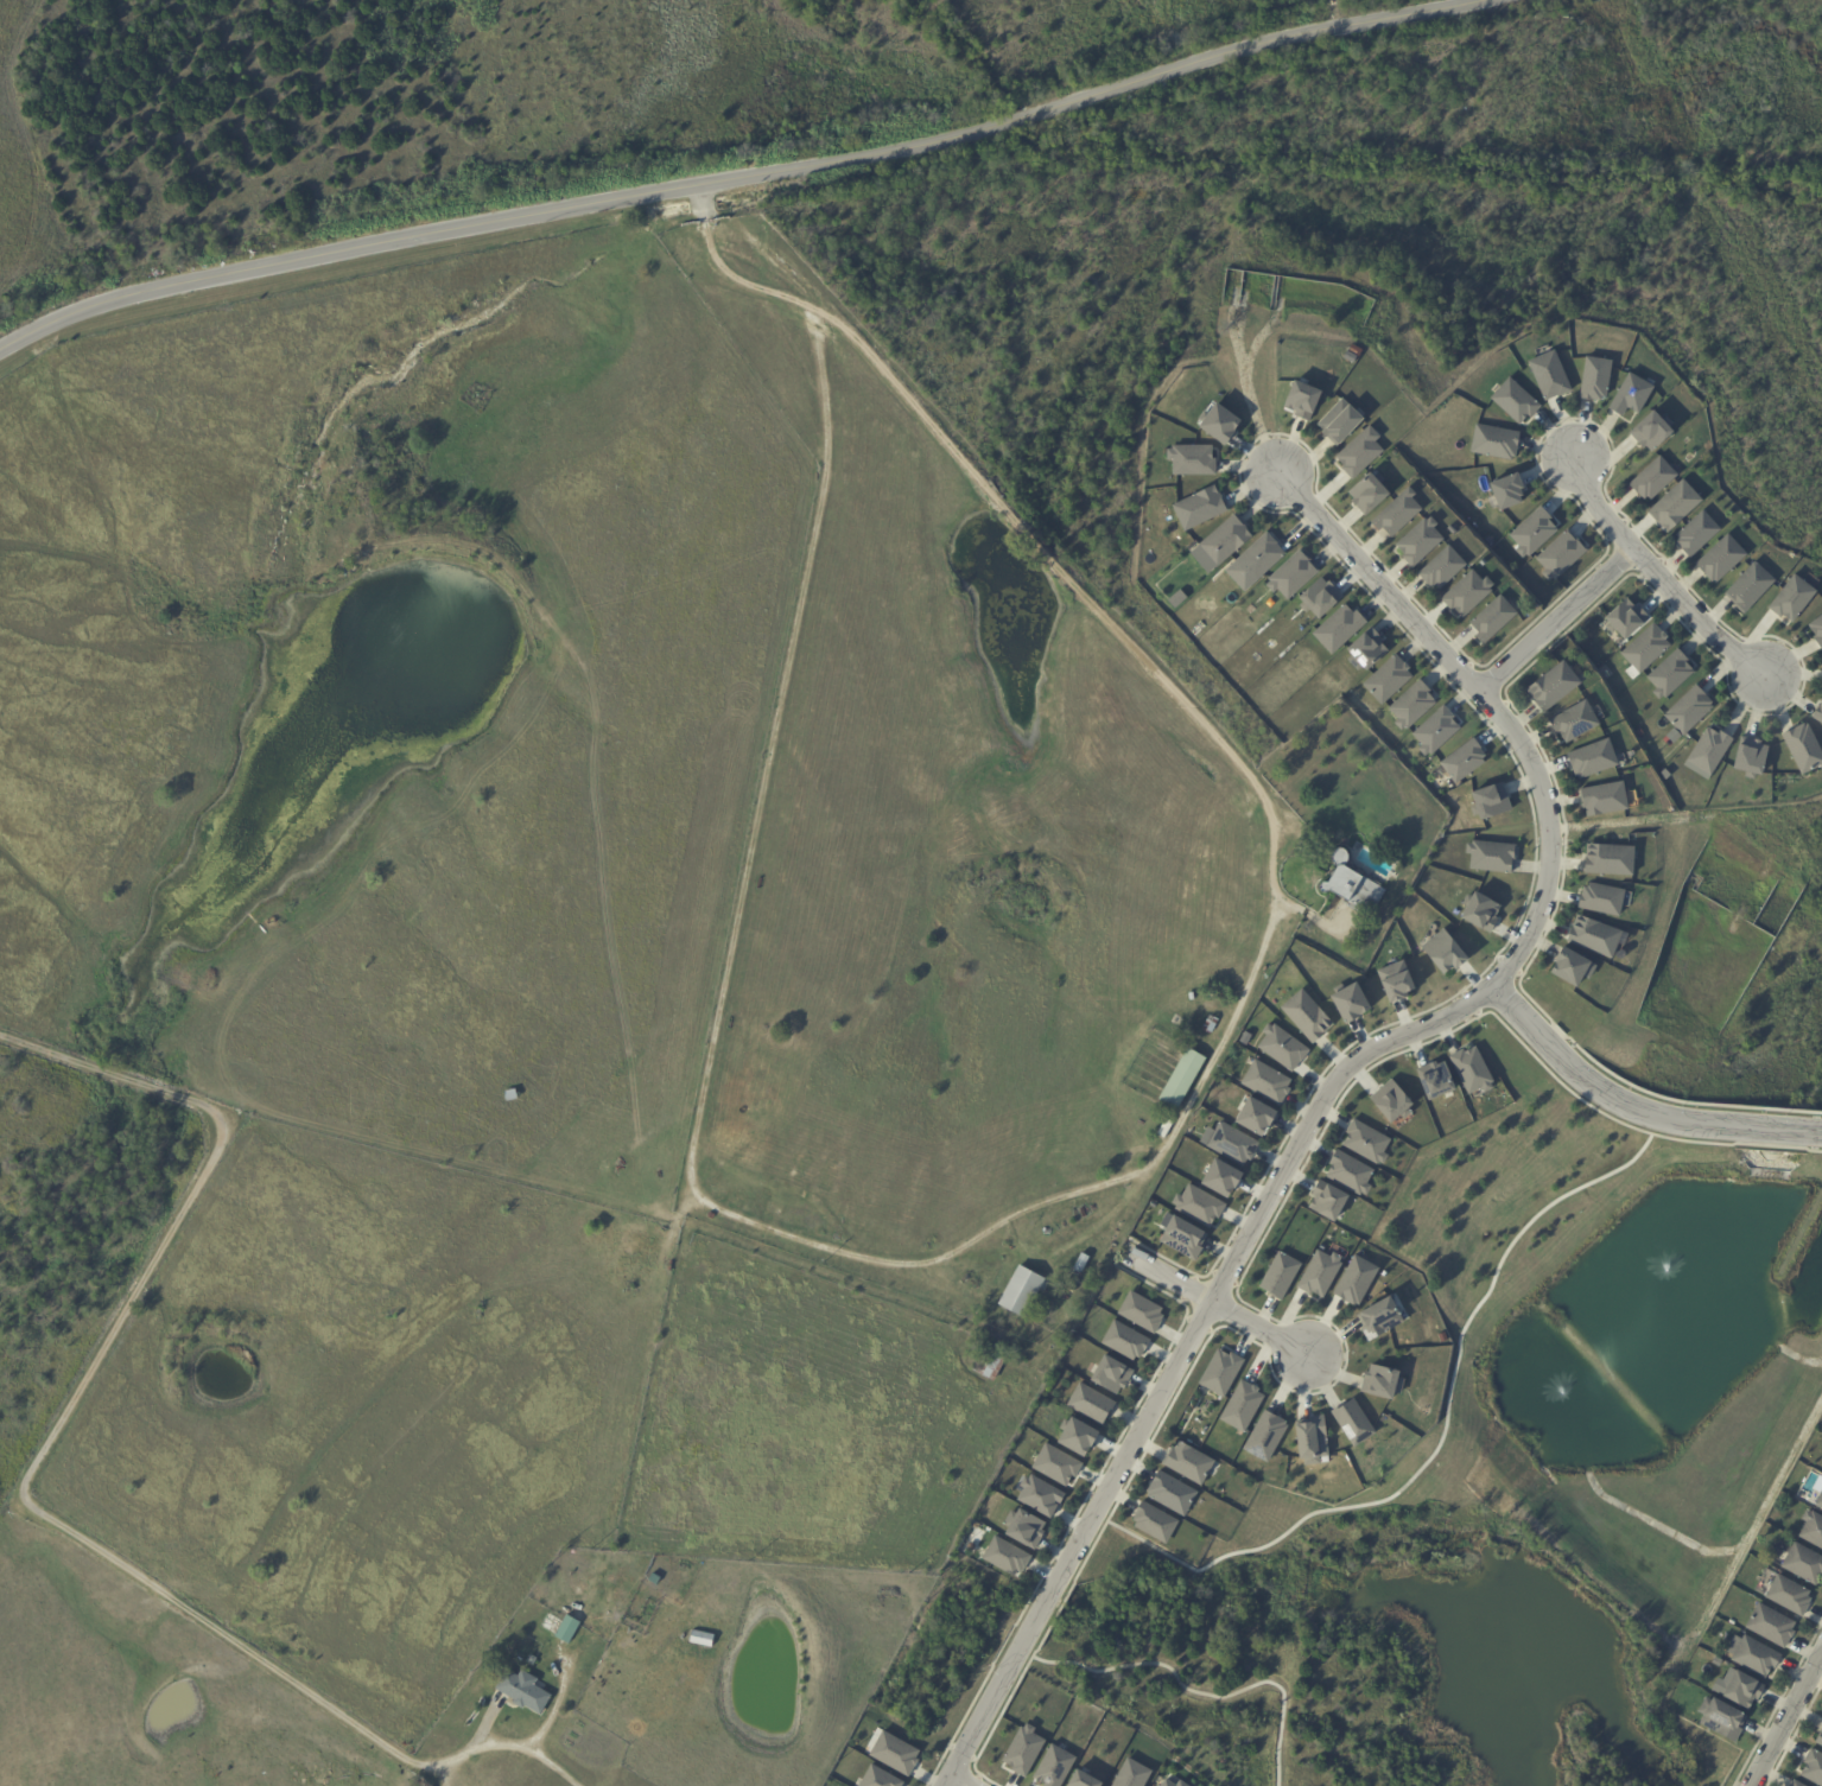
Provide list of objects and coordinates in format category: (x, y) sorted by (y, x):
road: (737, 177)
building: (1354, 349)
building: (1350, 356)
building: (1550, 375)
building: (1595, 379)
building: (1631, 396)
building: (1302, 400)
building: (1516, 401)
building: (1340, 424)
building: (1219, 425)
building: (1650, 432)
building: (1494, 441)
building: (1360, 452)
building: (1191, 462)
building: (1653, 479)
building: (1507, 491)
building: (1367, 495)
building: (1675, 508)
building: (1200, 509)
building: (1397, 514)
building: (1452, 530)
building: (1534, 533)
building: (1697, 534)
building: (1224, 541)
building: (1420, 542)
building: (1561, 557)
building: (1258, 559)
building: (1721, 559)
building: (1442, 570)
road: (1658, 574)
building: (1293, 576)
building: (1750, 587)
building: (1467, 595)
building: (1177, 598)
building: (1792, 598)
building: (1319, 600)
road: (1550, 618)
building: (1492, 619)
building: (1626, 619)
building: (1339, 630)
building: (1816, 631)
building: (1646, 648)
building: (1366, 650)
building: (1670, 674)
building: (1388, 680)
building: (1553, 687)
building: (1411, 706)
building: (1690, 711)
building: (1818, 713)
building: (1574, 723)
road: (1498, 725)
building: (1435, 733)
building: (1803, 748)
building: (1710, 750)
building: (1750, 757)
building: (1592, 758)
building: (1464, 762)
building: (1604, 799)
building: (1490, 805)
building: (1492, 857)
building: (1608, 860)
building: (1352, 886)
building: (1600, 900)
building: (1480, 914)
building: (1592, 936)
building: (1443, 952)
building: (1572, 968)
building: (1395, 980)
building: (1351, 1006)
building: (1307, 1018)
building: (1210, 1027)
building: (1282, 1047)
building: (1472, 1072)
building: (1181, 1081)
building: (1266, 1081)
building: (1435, 1082)
building: (513, 1094)
building: (1391, 1101)
road: (1632, 1107)
building: (1256, 1117)
building: (1166, 1130)
building: (1365, 1144)
building: (1232, 1145)
building: (1348, 1176)
building: (1221, 1177)
road: (1088, 1188)
building: (1329, 1202)
building: (1199, 1207)
building: (791, 1218)
building: (1181, 1237)
building: (1083, 1264)
building: (1318, 1272)
building: (1278, 1273)
building: (1353, 1279)
fountain: (1663, 1279)
building: (1020, 1292)
building: (1065, 1297)
road: (1215, 1304)
building: (1139, 1314)
building: (1378, 1317)
building: (1123, 1339)
road: (1790, 1353)
building: (989, 1362)
building: (1219, 1371)
building: (1110, 1373)
road: (1169, 1375)
building: (1383, 1381)
park: (1540, 1399)
building: (1088, 1402)
building: (1240, 1404)
building: (1353, 1423)
building: (1263, 1435)
building: (1075, 1436)
road: (1442, 1437)
building: (1310, 1439)
building: (1187, 1461)
building: (1055, 1463)
road: (20, 1491)
building: (1037, 1494)
building: (1172, 1494)
building: (1818, 1500)
road: (1639, 1515)
building: (1154, 1523)
building: (1024, 1527)
building: (1813, 1528)
building: (1004, 1555)
building: (1803, 1562)
building: (1789, 1595)
building: (1770, 1625)
building: (563, 1628)
building: (683, 1631)
building: (701, 1640)
building: (1754, 1655)
building: (534, 1660)
road: (1191, 1690)
building: (1744, 1690)
building: (527, 1693)
road: (1784, 1716)
building: (1721, 1718)
building: (1818, 1739)
building: (1022, 1749)
building: (894, 1752)
building: (1054, 1766)
building: (1813, 1767)
building: (1131, 1774)
building: (878, 1778)
road: (961, 1779)
building: (1081, 1779)
building: (1170, 1782)
building: (1797, 1784)

